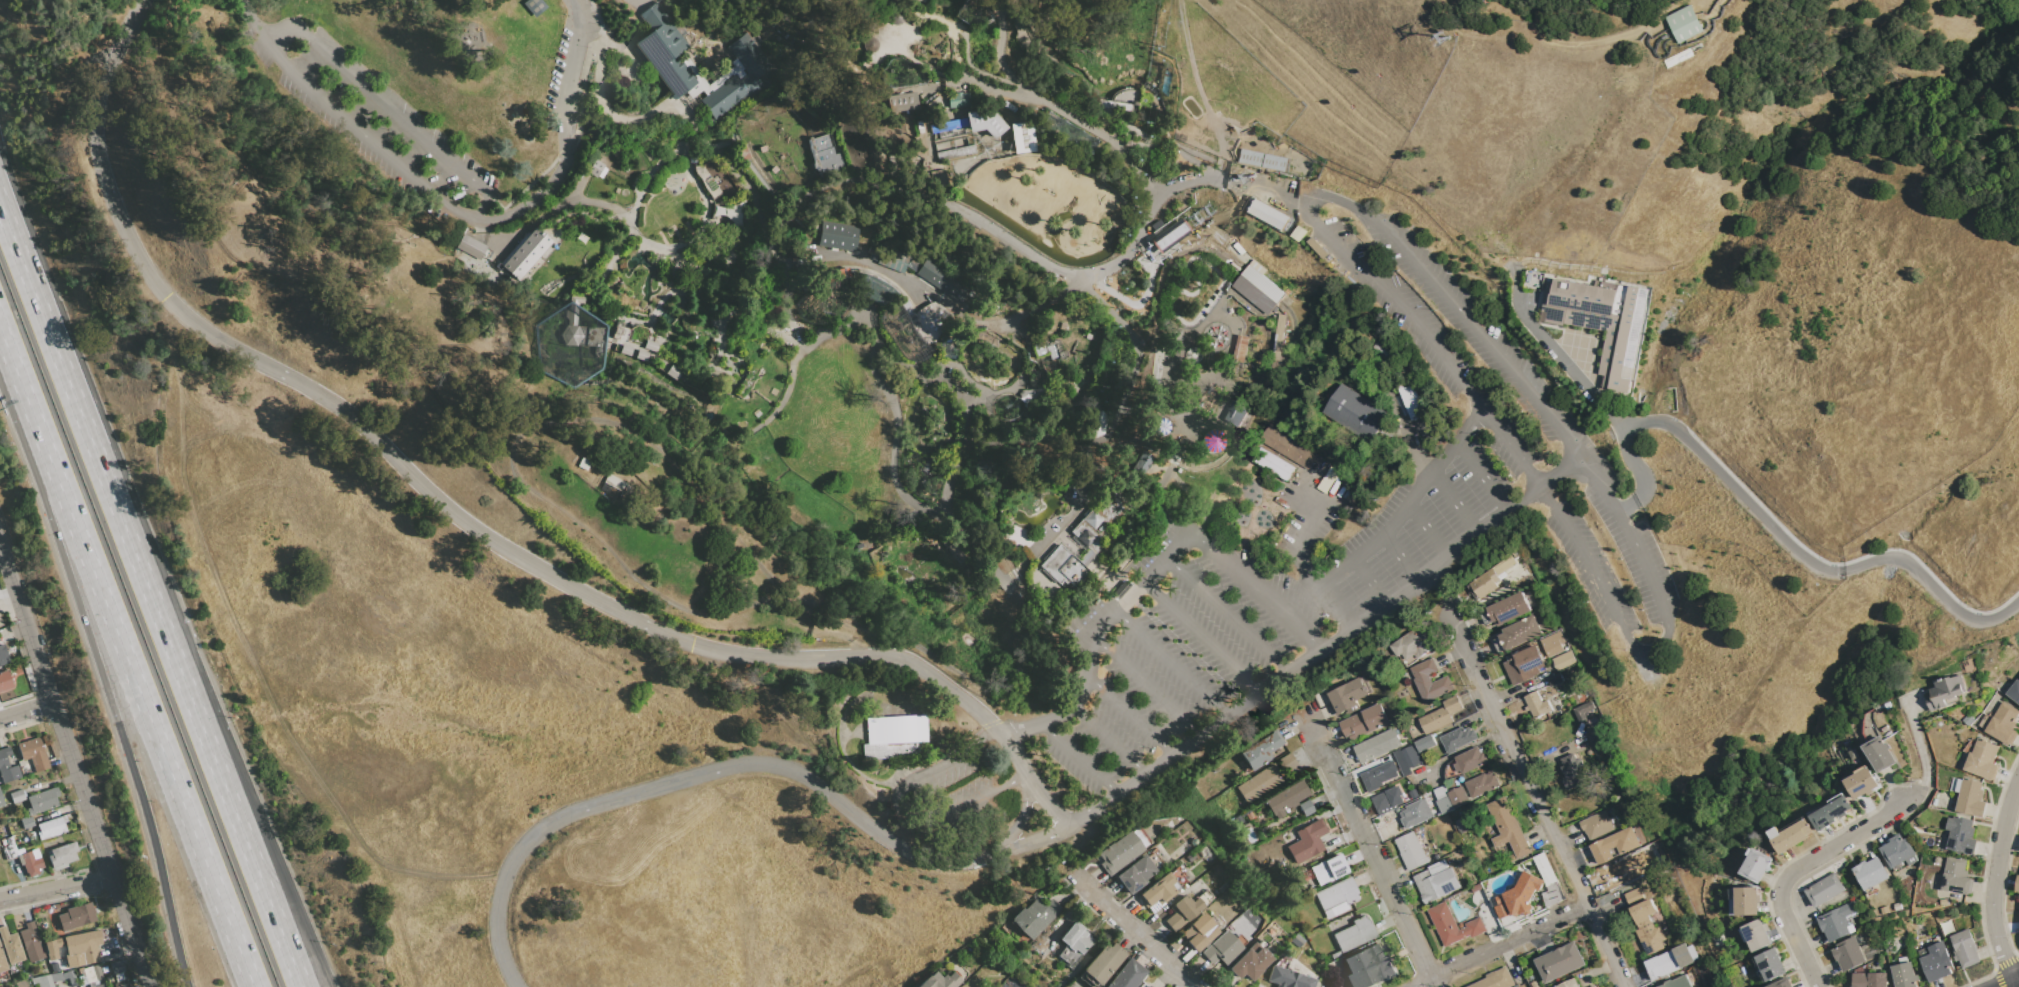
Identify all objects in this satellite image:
building: (533, 5)
road: (920, 13)
building: (871, 20)
building: (1683, 24)
aerialway pylon: (1441, 43)
road: (575, 44)
building: (870, 45)
aerialway pylon: (1157, 46)
building: (663, 48)
road: (881, 54)
parking lot: (570, 58)
road: (968, 62)
road: (935, 70)
building: (750, 75)
building: (725, 76)
road: (1194, 79)
road: (995, 88)
building: (958, 99)
building: (903, 102)
building: (1007, 106)
road: (389, 110)
building: (992, 117)
building: (981, 119)
parking lot: (373, 120)
road: (1122, 120)
aerialway pylon: (1145, 123)
building: (1000, 125)
building: (1021, 137)
building: (952, 138)
road: (562, 150)
building: (822, 152)
building: (691, 157)
building: (977, 160)
building: (1267, 161)
building: (965, 163)
building: (958, 164)
road: (1216, 167)
building: (594, 168)
building: (937, 177)
road: (757, 179)
aerialway pylon: (1250, 179)
building: (707, 180)
road: (418, 181)
road: (1234, 182)
road: (574, 187)
road: (715, 198)
building: (722, 198)
road: (707, 201)
aerialway pylon: (1132, 205)
road: (615, 209)
building: (735, 213)
aerialway pylon: (1203, 213)
road: (968, 214)
building: (1269, 214)
road: (537, 218)
road: (604, 219)
road: (711, 222)
road: (689, 229)
road: (676, 233)
building: (836, 236)
building: (1168, 236)
road: (663, 239)
building: (468, 247)
road: (726, 249)
building: (525, 253)
building: (875, 253)
railway: (1227, 254)
railway: (1226, 256)
building: (792, 258)
building: (891, 259)
building: (913, 265)
road: (779, 266)
road: (756, 267)
building: (941, 279)
building: (1257, 289)
building: (619, 296)
road: (726, 299)
road: (938, 299)
road: (1140, 300)
building: (903, 303)
aerialway pylon: (1116, 306)
railway: (1155, 314)
building: (934, 316)
road: (751, 317)
road: (640, 318)
road: (613, 319)
building: (1600, 321)
building: (920, 327)
building: (583, 330)
road: (1011, 332)
building: (1278, 337)
building: (632, 342)
building: (1050, 346)
road: (633, 348)
building: (1240, 348)
building: (1193, 354)
road: (656, 358)
road: (1444, 361)
building: (1171, 365)
building: (672, 371)
road: (727, 372)
road: (1180, 372)
road: (681, 376)
building: (1158, 376)
road: (736, 380)
building: (746, 382)
road: (976, 384)
aerialway pylon: (1104, 385)
building: (1177, 392)
road: (1589, 393)
road: (1122, 397)
road: (974, 398)
building: (1410, 398)
road: (22, 404)
building: (1234, 413)
building: (1356, 413)
park: (999, 414)
road: (85, 420)
building: (1097, 422)
building: (1161, 424)
road: (1190, 424)
road: (897, 434)
road: (1021, 438)
building: (1212, 440)
building: (1288, 447)
parking lot: (1482, 453)
road: (959, 459)
building: (1142, 462)
building: (577, 463)
building: (1274, 463)
road: (1481, 475)
road: (1111, 481)
building: (608, 482)
road: (422, 488)
building: (602, 492)
road: (1454, 501)
building: (1098, 521)
road: (1388, 527)
road: (1119, 528)
road: (1426, 529)
road: (1303, 538)
building: (1084, 556)
road: (1085, 556)
road: (1126, 557)
road: (1401, 559)
road: (1808, 560)
building: (1064, 567)
building: (1491, 578)
road: (1371, 583)
road: (1438, 586)
road: (1253, 587)
building: (1509, 609)
road: (1227, 614)
building: (0, 623)
road: (1165, 630)
railway: (883, 632)
building: (1518, 634)
road: (1201, 636)
road: (1092, 643)
building: (1553, 643)
building: (1412, 645)
road: (1326, 647)
building: (3, 655)
parking lot: (1170, 655)
building: (1563, 661)
road: (1171, 663)
building: (1524, 665)
building: (1555, 680)
building: (4, 681)
building: (1430, 681)
road: (1147, 686)
building: (1385, 688)
building: (1945, 691)
building: (2014, 691)
building: (1320, 697)
building: (1348, 697)
building: (1537, 705)
building: (1887, 706)
building: (1583, 711)
road: (26, 712)
road: (1130, 713)
building: (1440, 715)
building: (1968, 720)
building: (1365, 722)
building: (2003, 723)
road: (118, 725)
road: (148, 725)
building: (894, 737)
building: (1594, 737)
road: (1109, 739)
building: (1457, 739)
building: (1425, 743)
building: (1377, 746)
building: (1260, 750)
road: (1013, 751)
building: (33, 753)
building: (1880, 754)
road: (1081, 758)
building: (1409, 758)
building: (1983, 760)
building: (1470, 761)
building: (1286, 762)
road: (726, 766)
building: (7, 767)
road: (75, 768)
building: (1573, 771)
building: (1378, 775)
building: (1862, 782)
building: (1258, 783)
building: (1481, 785)
building: (1956, 786)
road: (1536, 793)
building: (16, 796)
building: (1458, 797)
building: (1286, 798)
building: (1971, 799)
building: (1, 800)
building: (42, 800)
road: (1044, 800)
building: (1388, 800)
building: (1443, 800)
building: (1306, 808)
road: (905, 811)
building: (1831, 812)
road: (258, 814)
building: (1415, 814)
building: (1248, 815)
road: (236, 817)
road: (1019, 821)
building: (27, 822)
building: (1596, 825)
building: (51, 827)
building: (1460, 827)
building: (1790, 835)
building: (1961, 835)
building: (1139, 837)
building: (1511, 837)
building: (1307, 841)
road: (1369, 844)
building: (1615, 845)
road: (1839, 845)
building: (9, 848)
building: (19, 851)
building: (1898, 851)
building: (1412, 852)
building: (1119, 853)
building: (62, 855)
building: (30, 862)
building: (1757, 865)
building: (1328, 869)
building: (1870, 873)
building: (1135, 874)
building: (1956, 876)
building: (1436, 882)
building: (2017, 882)
road: (2001, 885)
road: (55, 889)
building: (1156, 890)
building: (1521, 890)
building: (1824, 890)
building: (1634, 896)
building: (1336, 897)
building: (1745, 901)
building: (1943, 902)
building: (1898, 906)
building: (1181, 912)
building: (77, 916)
building: (1035, 917)
building: (1837, 922)
building: (1453, 925)
building: (1647, 927)
road: (1131, 930)
building: (1354, 933)
building: (1197, 934)
building: (1758, 935)
building: (1075, 938)
building: (1859, 939)
building: (1297, 940)
building: (31, 942)
building: (47, 944)
building: (11, 945)
building: (84, 945)
road: (1502, 946)
building: (1965, 948)
building: (1222, 950)
building: (1924, 952)
building: (1848, 954)
building: (1334, 955)
building: (1671, 960)
building: (1903, 960)
building: (2, 962)
building: (69, 962)
building: (1249, 962)
building: (1936, 962)
building: (1103, 963)
building: (1560, 963)
building: (1771, 964)
building: (1368, 966)
building: (93, 973)
building: (1127, 975)
building: (1904, 975)
building: (69, 977)
building: (1287, 978)
building: (1496, 979)
building: (1869, 979)
building: (939, 980)
building: (43, 981)
building: (1677, 982)
building: (1708, 982)
road: (2008, 982)
building: (1782, 983)
building: (23, 984)
building: (121, 984)
building: (1533, 984)
building: (1570, 984)
building: (99, 985)
building: (1147, 986)
building: (1592, 986)

